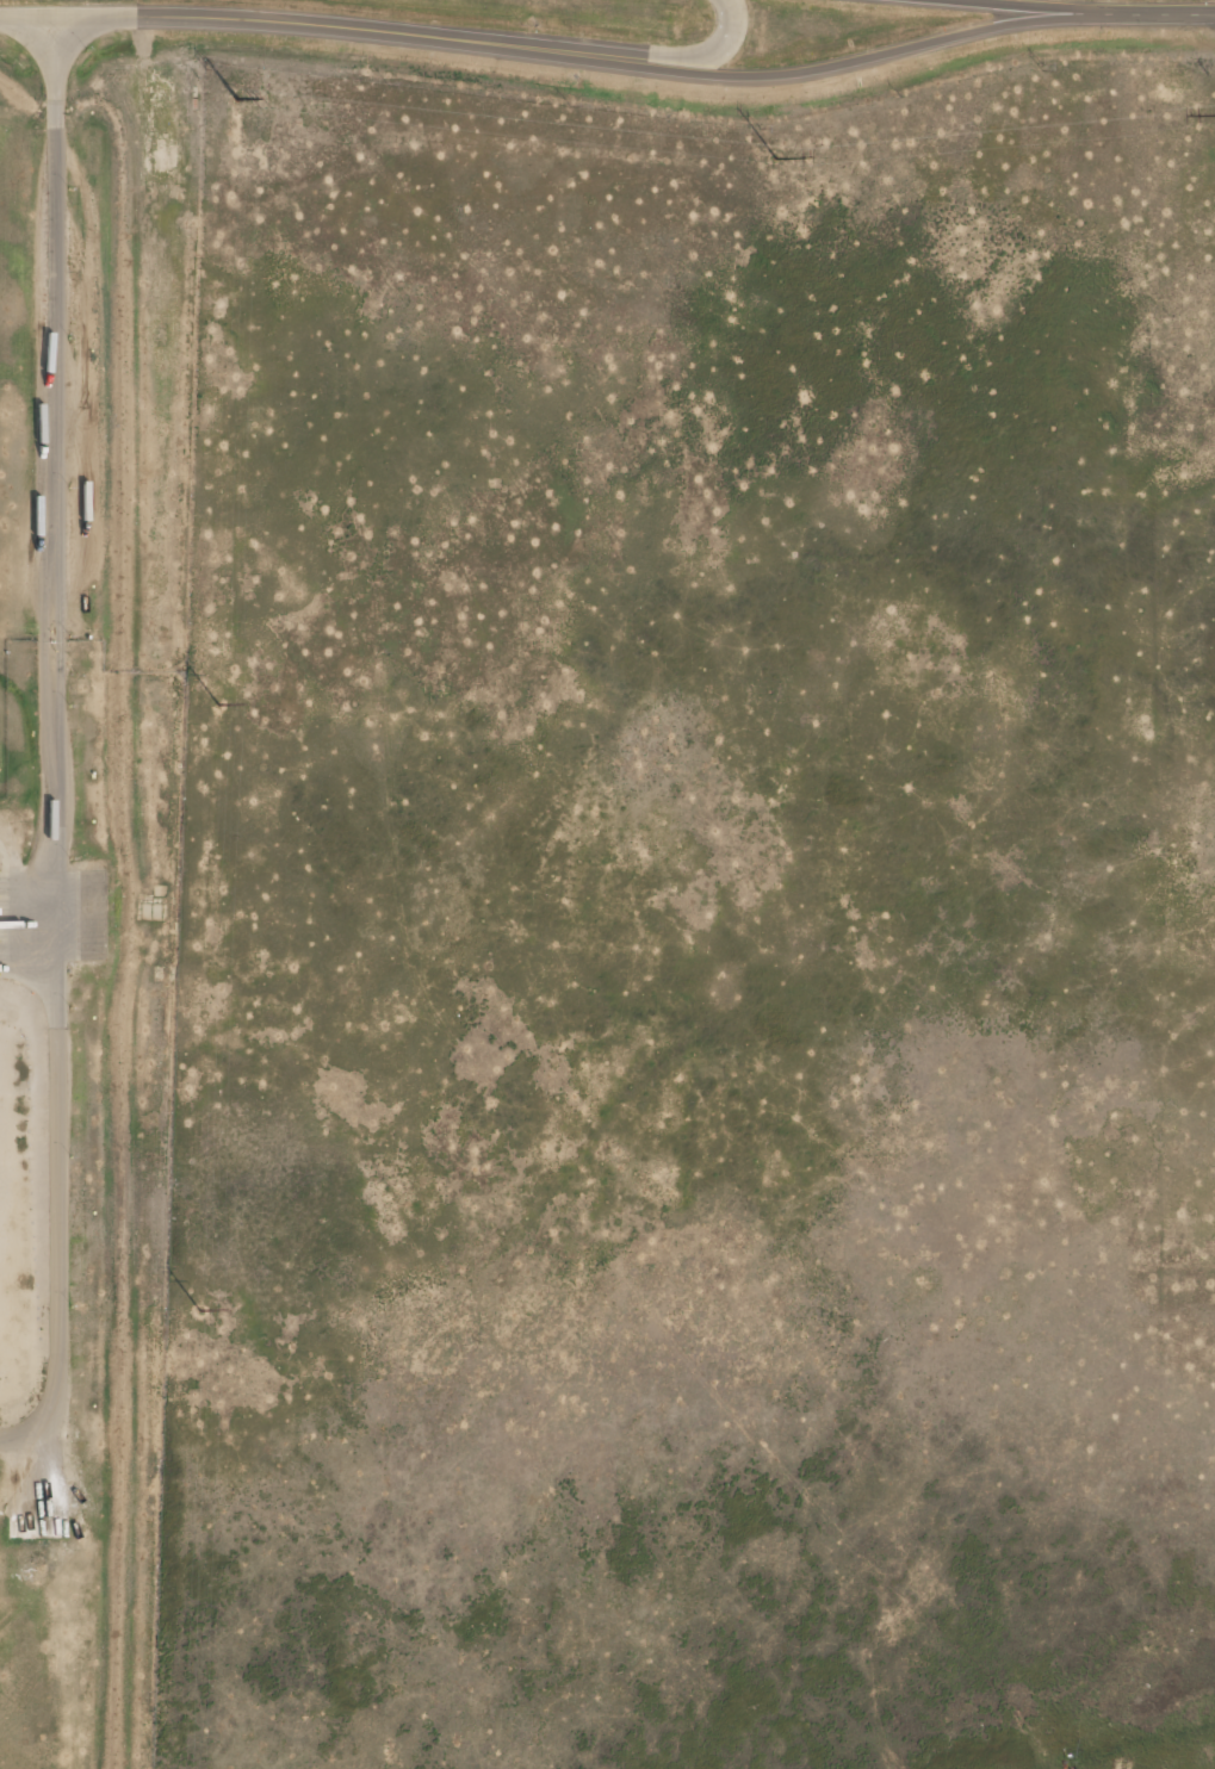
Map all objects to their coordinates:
road: (1065, 5)
road: (1173, 12)
road: (342, 23)
road: (726, 46)
road: (907, 48)
power tower: (237, 99)
power tower: (775, 159)
power tower: (221, 707)
road: (56, 741)
power tower: (200, 1311)

